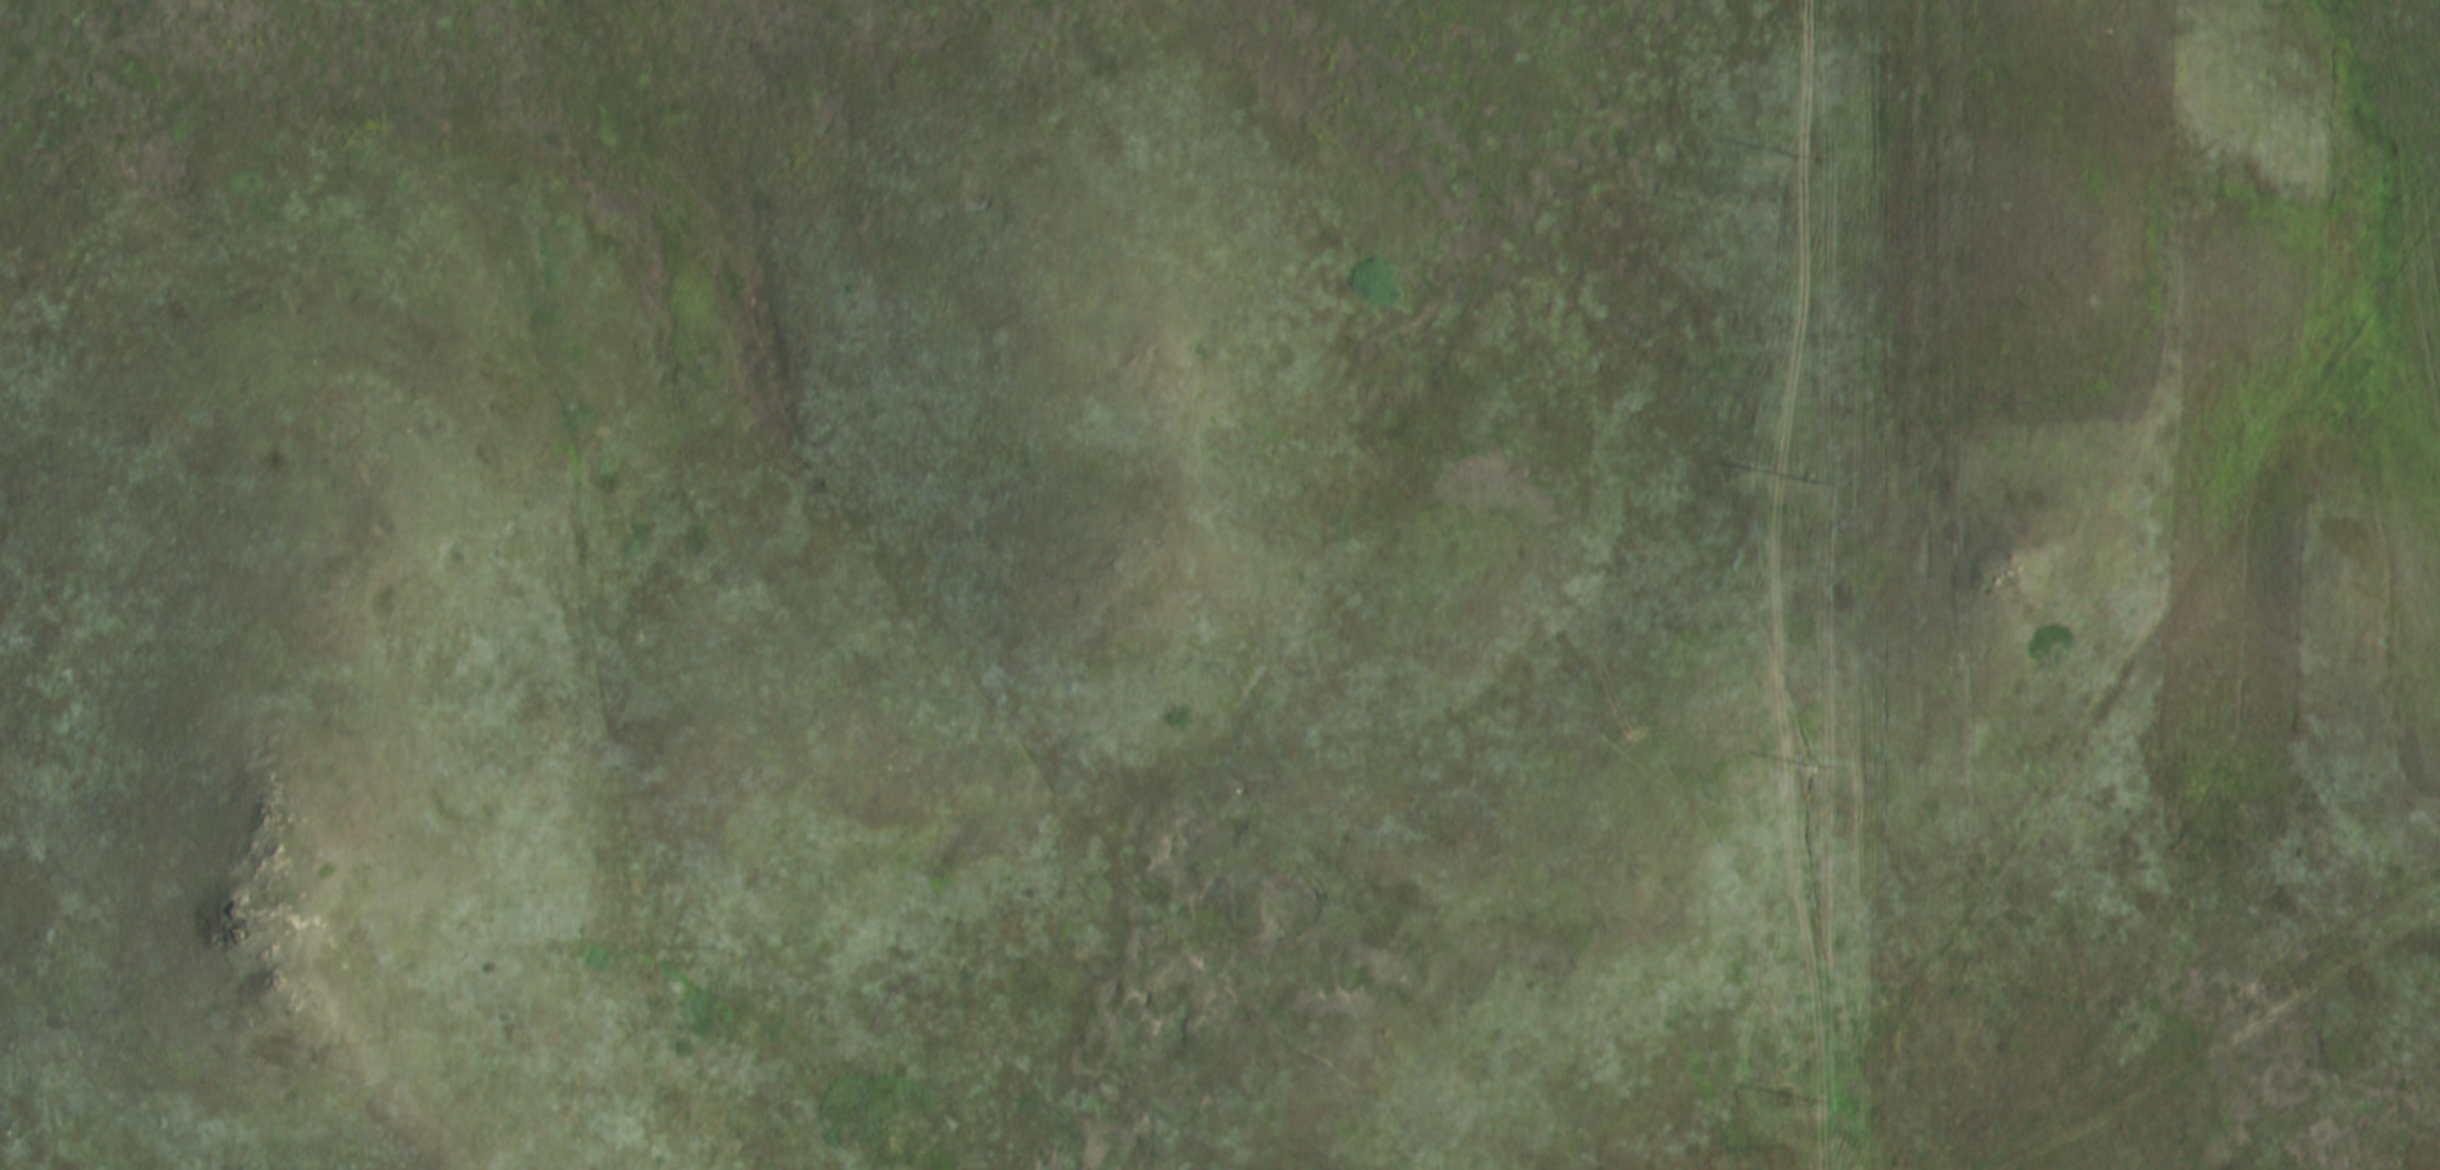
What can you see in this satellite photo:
road: (2411, 184)
road: (2214, 1013)

